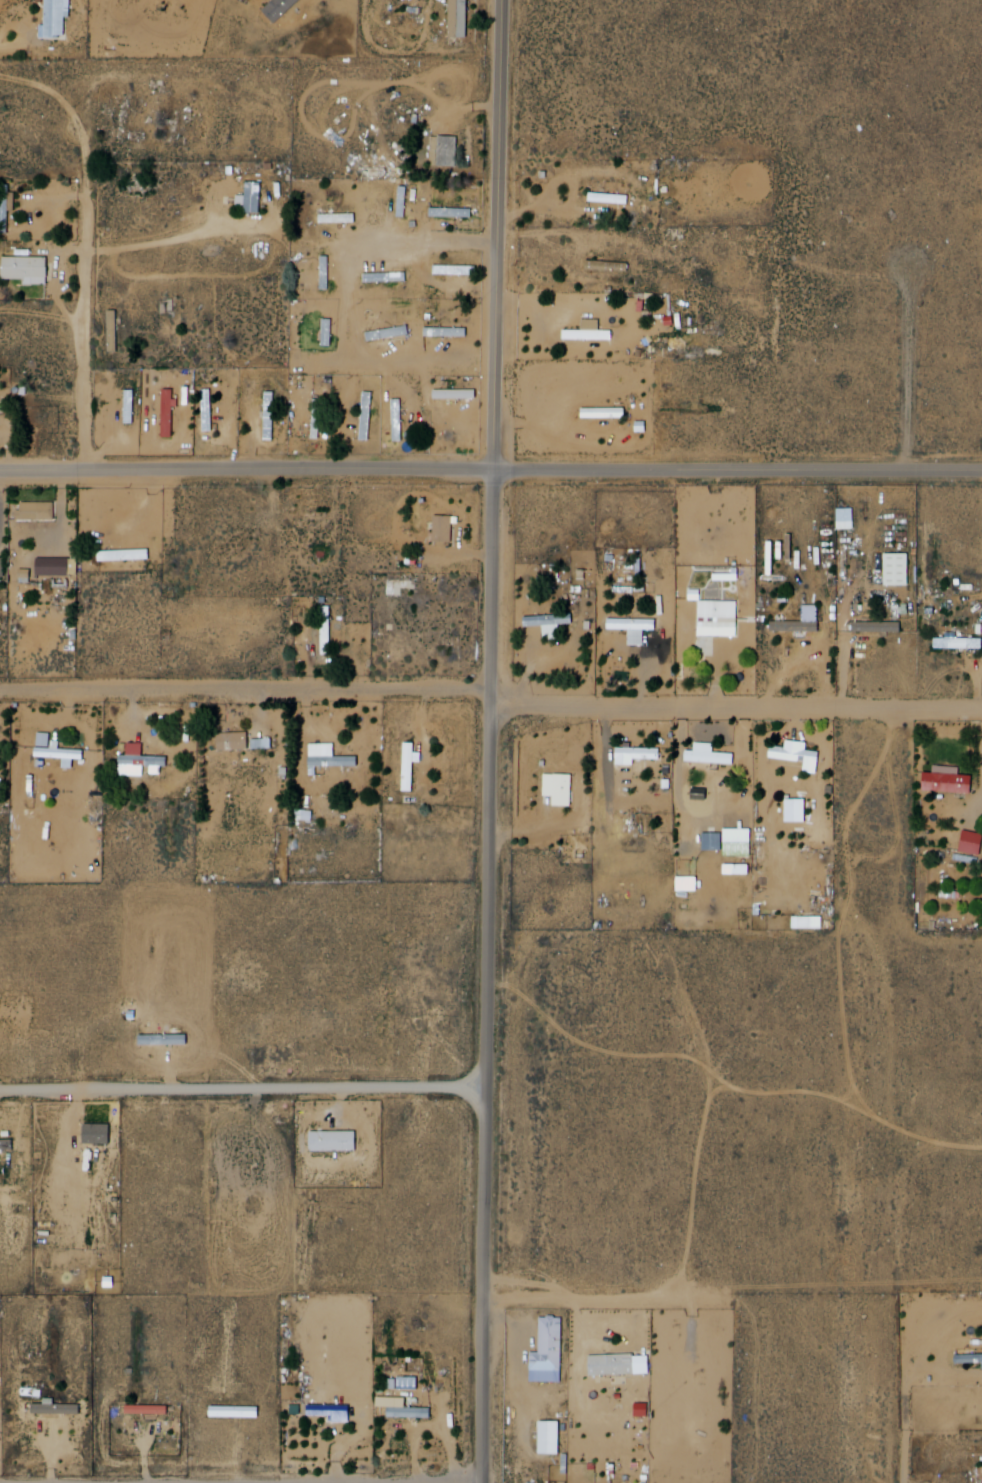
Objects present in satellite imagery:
building: (284, 8)
building: (60, 16)
building: (462, 18)
building: (451, 150)
building: (387, 171)
building: (256, 197)
building: (400, 198)
building: (611, 198)
building: (406, 202)
building: (6, 210)
building: (452, 213)
building: (340, 218)
building: (671, 240)
road: (373, 250)
building: (611, 265)
building: (29, 268)
building: (460, 269)
building: (329, 272)
building: (322, 273)
building: (386, 275)
road: (95, 318)
building: (117, 331)
building: (450, 331)
building: (324, 333)
building: (330, 333)
building: (393, 334)
building: (589, 334)
road: (401, 367)
building: (458, 393)
building: (132, 406)
building: (126, 407)
building: (0, 408)
building: (210, 410)
building: (606, 410)
building: (171, 412)
building: (266, 416)
building: (274, 416)
building: (319, 416)
building: (363, 416)
building: (369, 416)
building: (395, 421)
building: (401, 421)
road: (490, 473)
building: (39, 511)
building: (311, 519)
building: (842, 519)
building: (444, 526)
building: (126, 555)
building: (60, 566)
building: (893, 570)
building: (721, 618)
building: (554, 621)
building: (800, 627)
building: (328, 628)
building: (639, 628)
building: (881, 628)
building: (322, 630)
building: (960, 642)
road: (248, 694)
road: (739, 712)
road: (496, 741)
building: (236, 743)
building: (799, 751)
building: (67, 752)
building: (639, 755)
building: (711, 755)
building: (328, 757)
building: (145, 759)
building: (411, 764)
building: (951, 780)
building: (561, 789)
building: (709, 842)
building: (969, 843)
road: (599, 1297)
building: (552, 1352)
building: (971, 1358)
building: (696, 1363)
building: (622, 1365)
building: (61, 1410)
building: (151, 1410)
building: (338, 1414)
building: (414, 1414)
building: (548, 1437)
road: (901, 1460)

